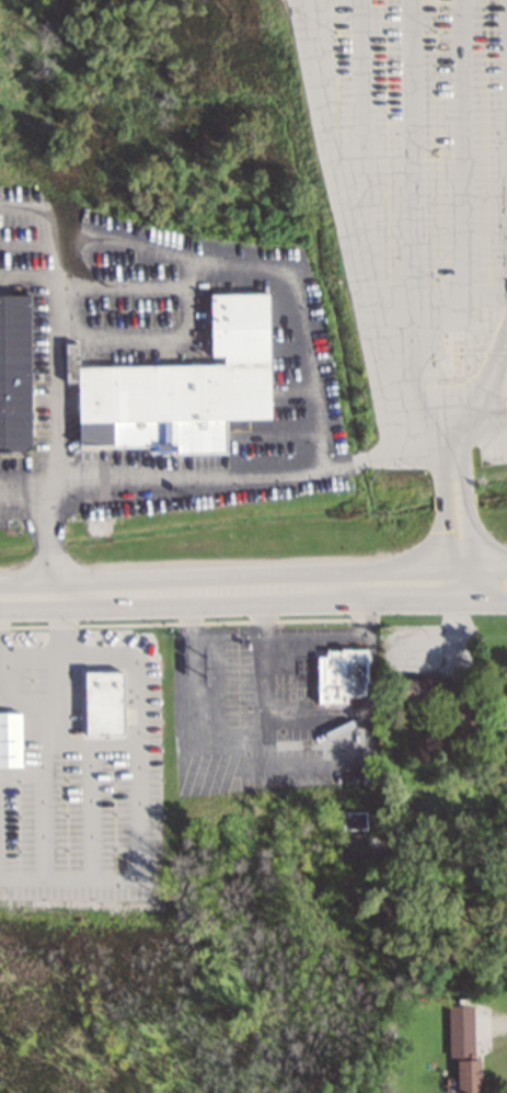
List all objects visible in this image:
road: (359, 249)
road: (26, 275)
building: (14, 374)
road: (307, 374)
road: (50, 375)
building: (177, 382)
road: (477, 444)
road: (361, 460)
road: (24, 475)
road: (458, 516)
road: (47, 534)
road: (253, 590)
building: (30, 660)
building: (341, 672)
building: (411, 687)
building: (459, 724)
building: (10, 739)
building: (104, 742)
building: (155, 796)
road: (97, 874)
building: (460, 1031)
building: (466, 1075)

